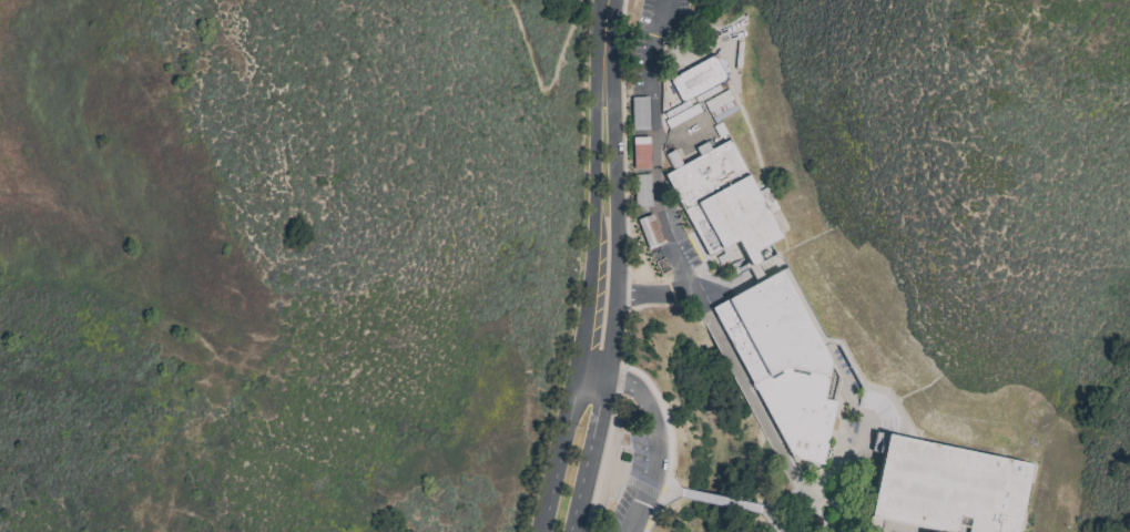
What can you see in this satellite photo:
building: (692, 89)
road: (540, 96)
road: (650, 176)
building: (726, 206)
road: (615, 267)
road: (594, 268)
building: (783, 361)
road: (614, 400)
road: (669, 440)
road: (651, 447)
road: (813, 478)
building: (950, 489)
road: (714, 498)
road: (772, 520)
road: (801, 530)

